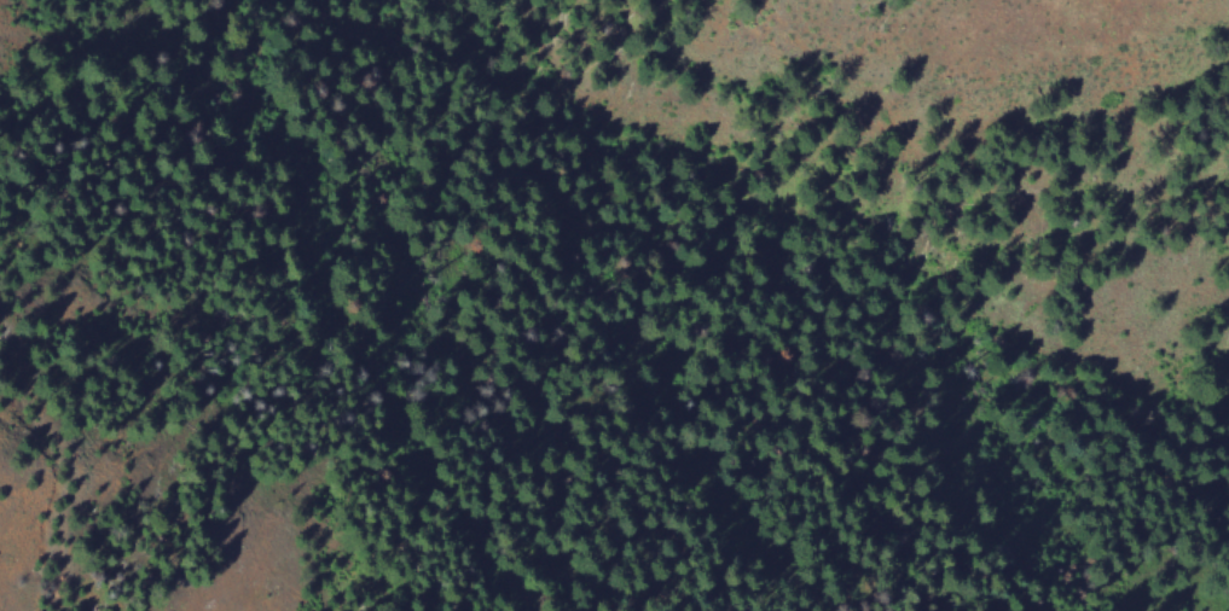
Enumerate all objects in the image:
road: (327, 310)
road: (30, 464)

